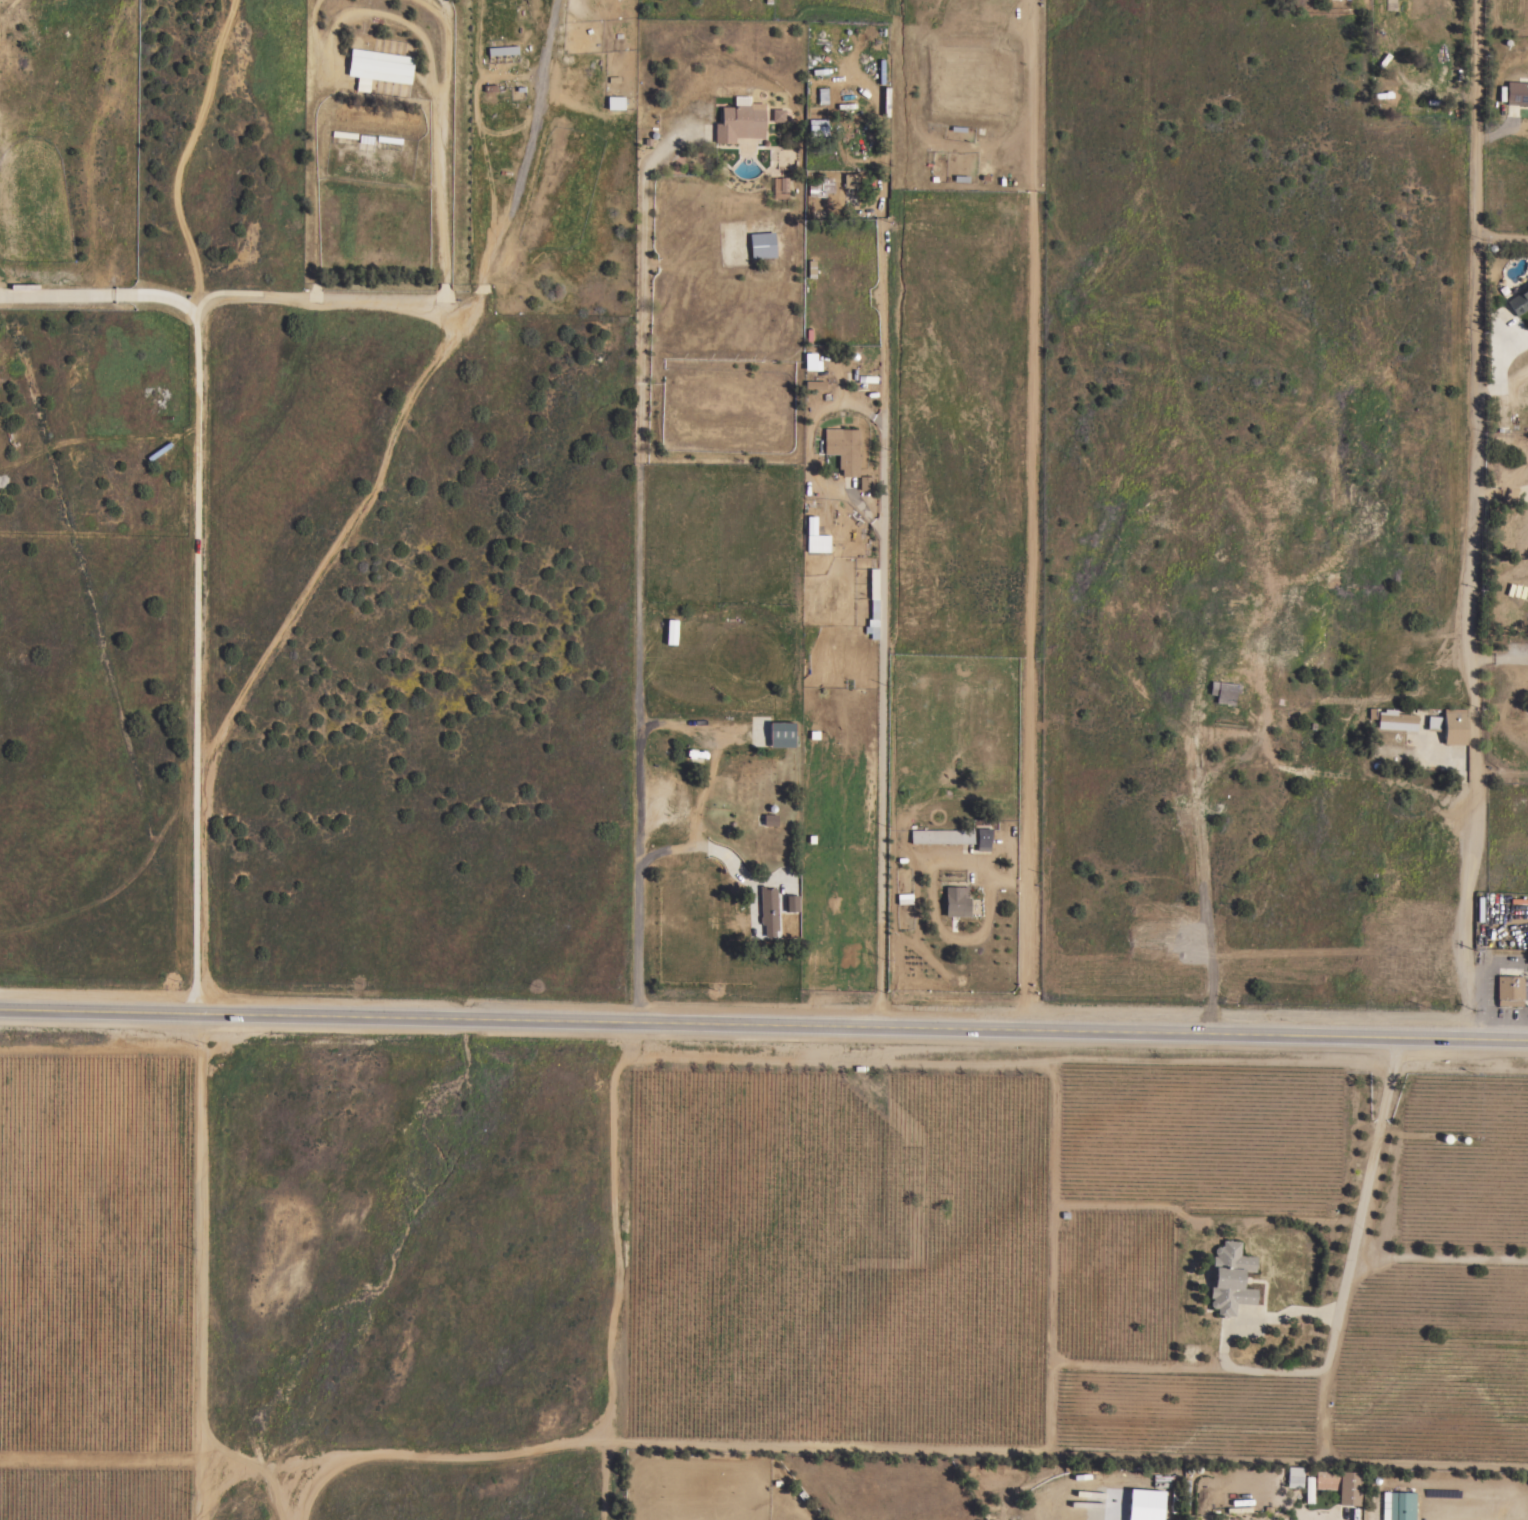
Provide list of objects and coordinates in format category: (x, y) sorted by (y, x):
building: (1389, 4)
building: (502, 51)
building: (377, 67)
building: (1516, 93)
building: (821, 96)
building: (614, 102)
building: (777, 115)
building: (739, 120)
building: (816, 130)
road: (1497, 130)
building: (344, 134)
building: (388, 139)
road: (185, 149)
road: (440, 151)
road: (522, 172)
building: (850, 181)
building: (819, 187)
building: (780, 188)
road: (1500, 237)
building: (761, 245)
building: (1518, 301)
road: (217, 302)
building: (810, 362)
road: (1493, 369)
building: (815, 385)
building: (842, 449)
building: (865, 482)
road: (1499, 495)
road: (864, 514)
road: (1030, 514)
road: (1469, 520)
building: (813, 538)
road: (636, 554)
building: (873, 591)
building: (872, 628)
building: (670, 632)
road: (882, 656)
road: (204, 657)
road: (1497, 657)
building: (1223, 691)
building: (1395, 720)
building: (1432, 723)
building: (1453, 727)
building: (780, 734)
road: (1203, 812)
building: (769, 819)
building: (940, 836)
building: (982, 838)
road: (702, 844)
building: (903, 899)
building: (953, 900)
building: (791, 903)
building: (767, 909)
road: (1496, 962)
building: (1508, 990)
road: (764, 1024)
road: (1357, 1218)
road: (202, 1265)
building: (1229, 1278)
road: (98, 1457)
road: (255, 1467)
building: (1293, 1476)
building: (1123, 1480)
building: (1339, 1485)
building: (1307, 1490)
building: (1185, 1497)
building: (1397, 1505)

